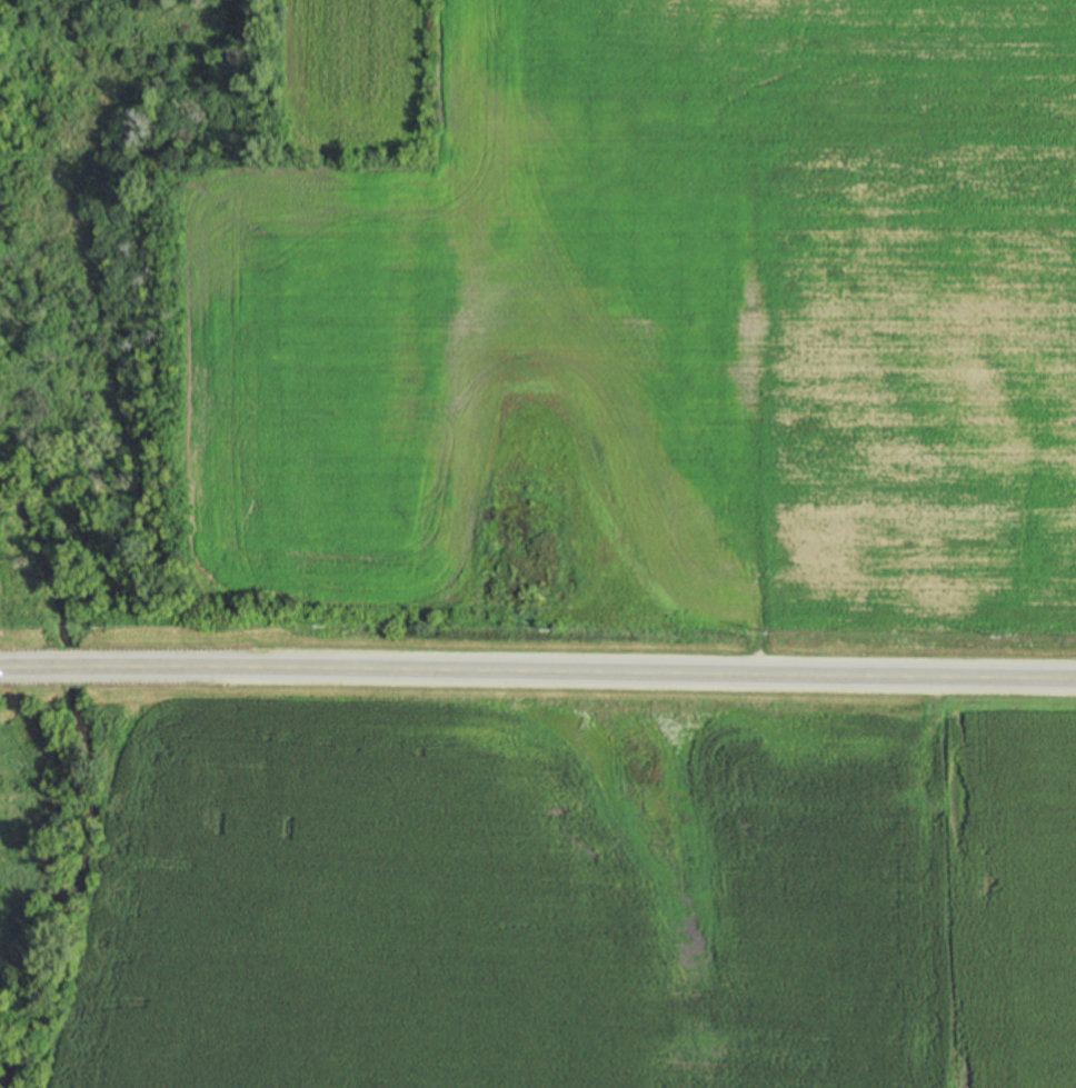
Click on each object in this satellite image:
road: (538, 670)

